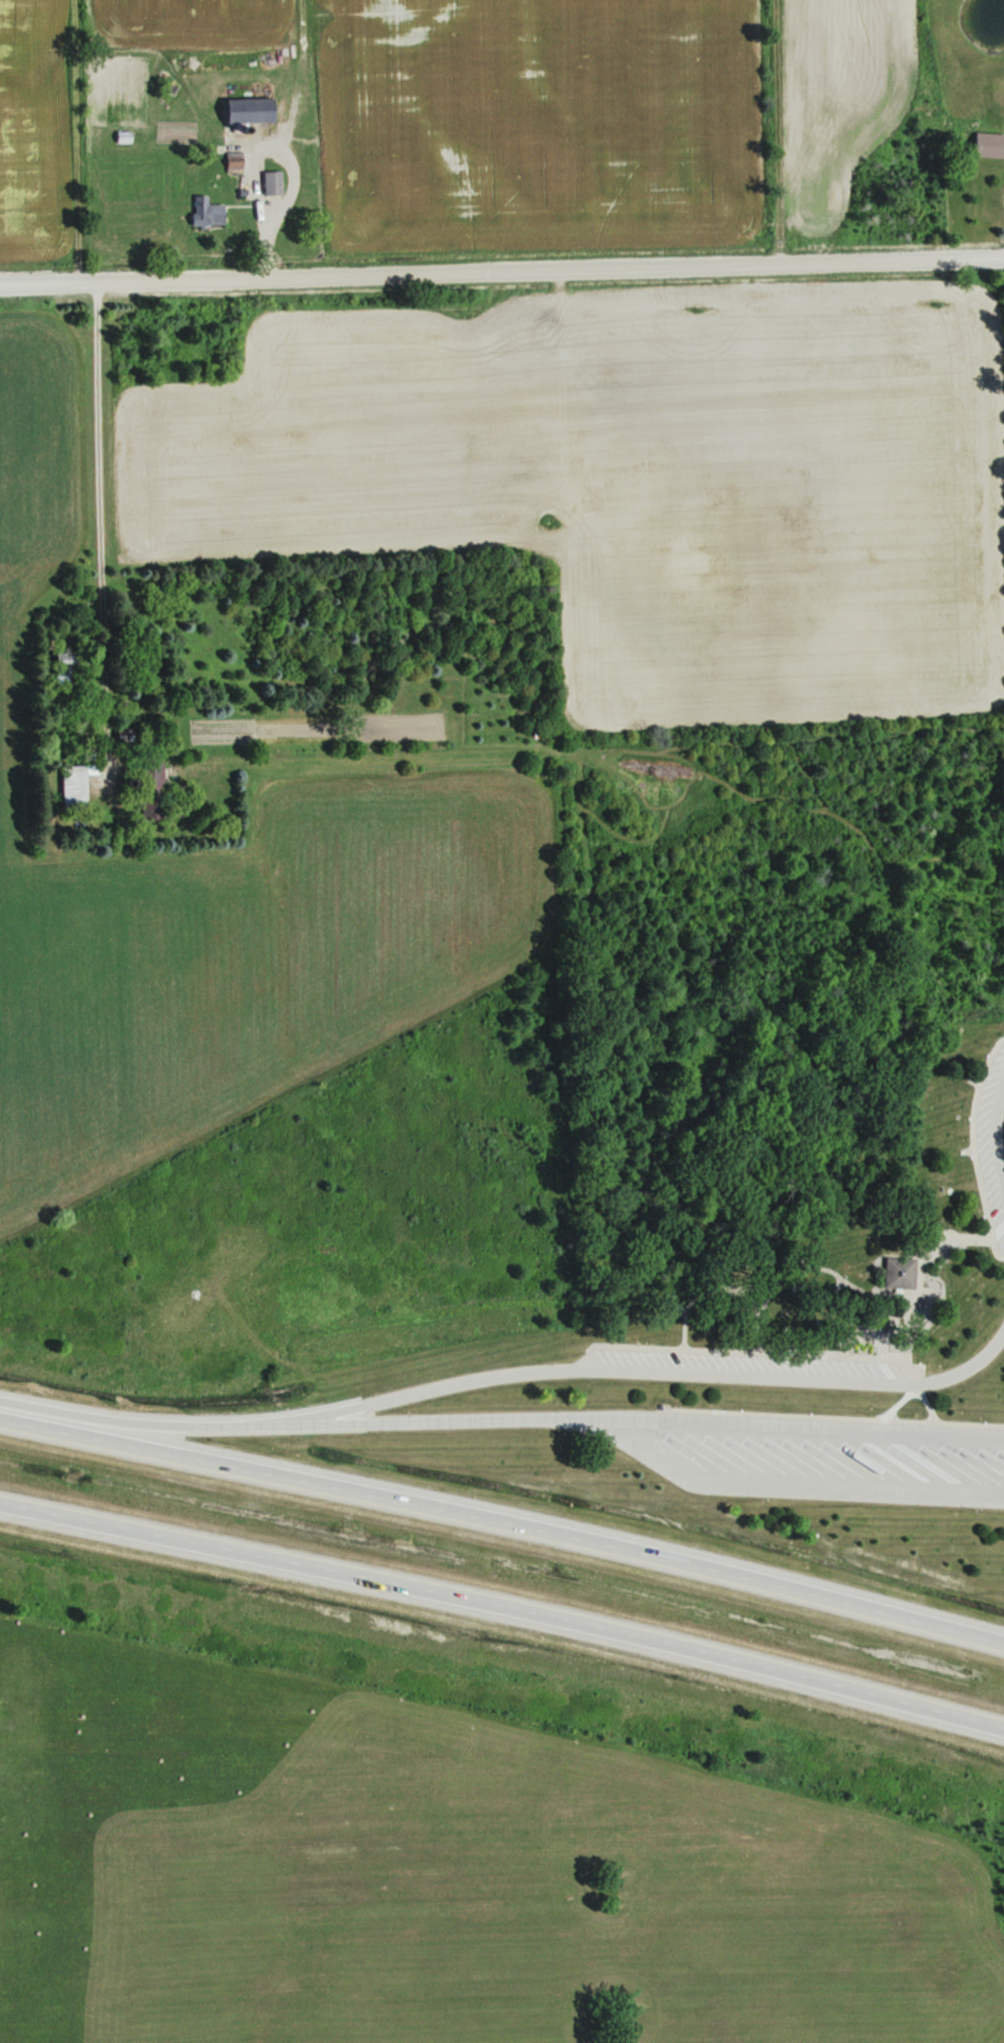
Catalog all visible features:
building: (260, 110)
building: (980, 143)
building: (276, 182)
building: (210, 210)
road: (502, 271)
road: (102, 434)
road: (991, 1135)
parking lot: (993, 1141)
road: (970, 1144)
road: (923, 1259)
building: (894, 1272)
road: (778, 1278)
road: (748, 1297)
road: (759, 1312)
road: (879, 1318)
road: (852, 1333)
road: (883, 1346)
road: (756, 1351)
parking lot: (740, 1368)
road: (647, 1369)
road: (903, 1396)
road: (925, 1404)
road: (831, 1416)
road: (638, 1417)
road: (135, 1422)
parking lot: (811, 1456)
road: (781, 1488)
road: (503, 1522)
road: (503, 1607)

